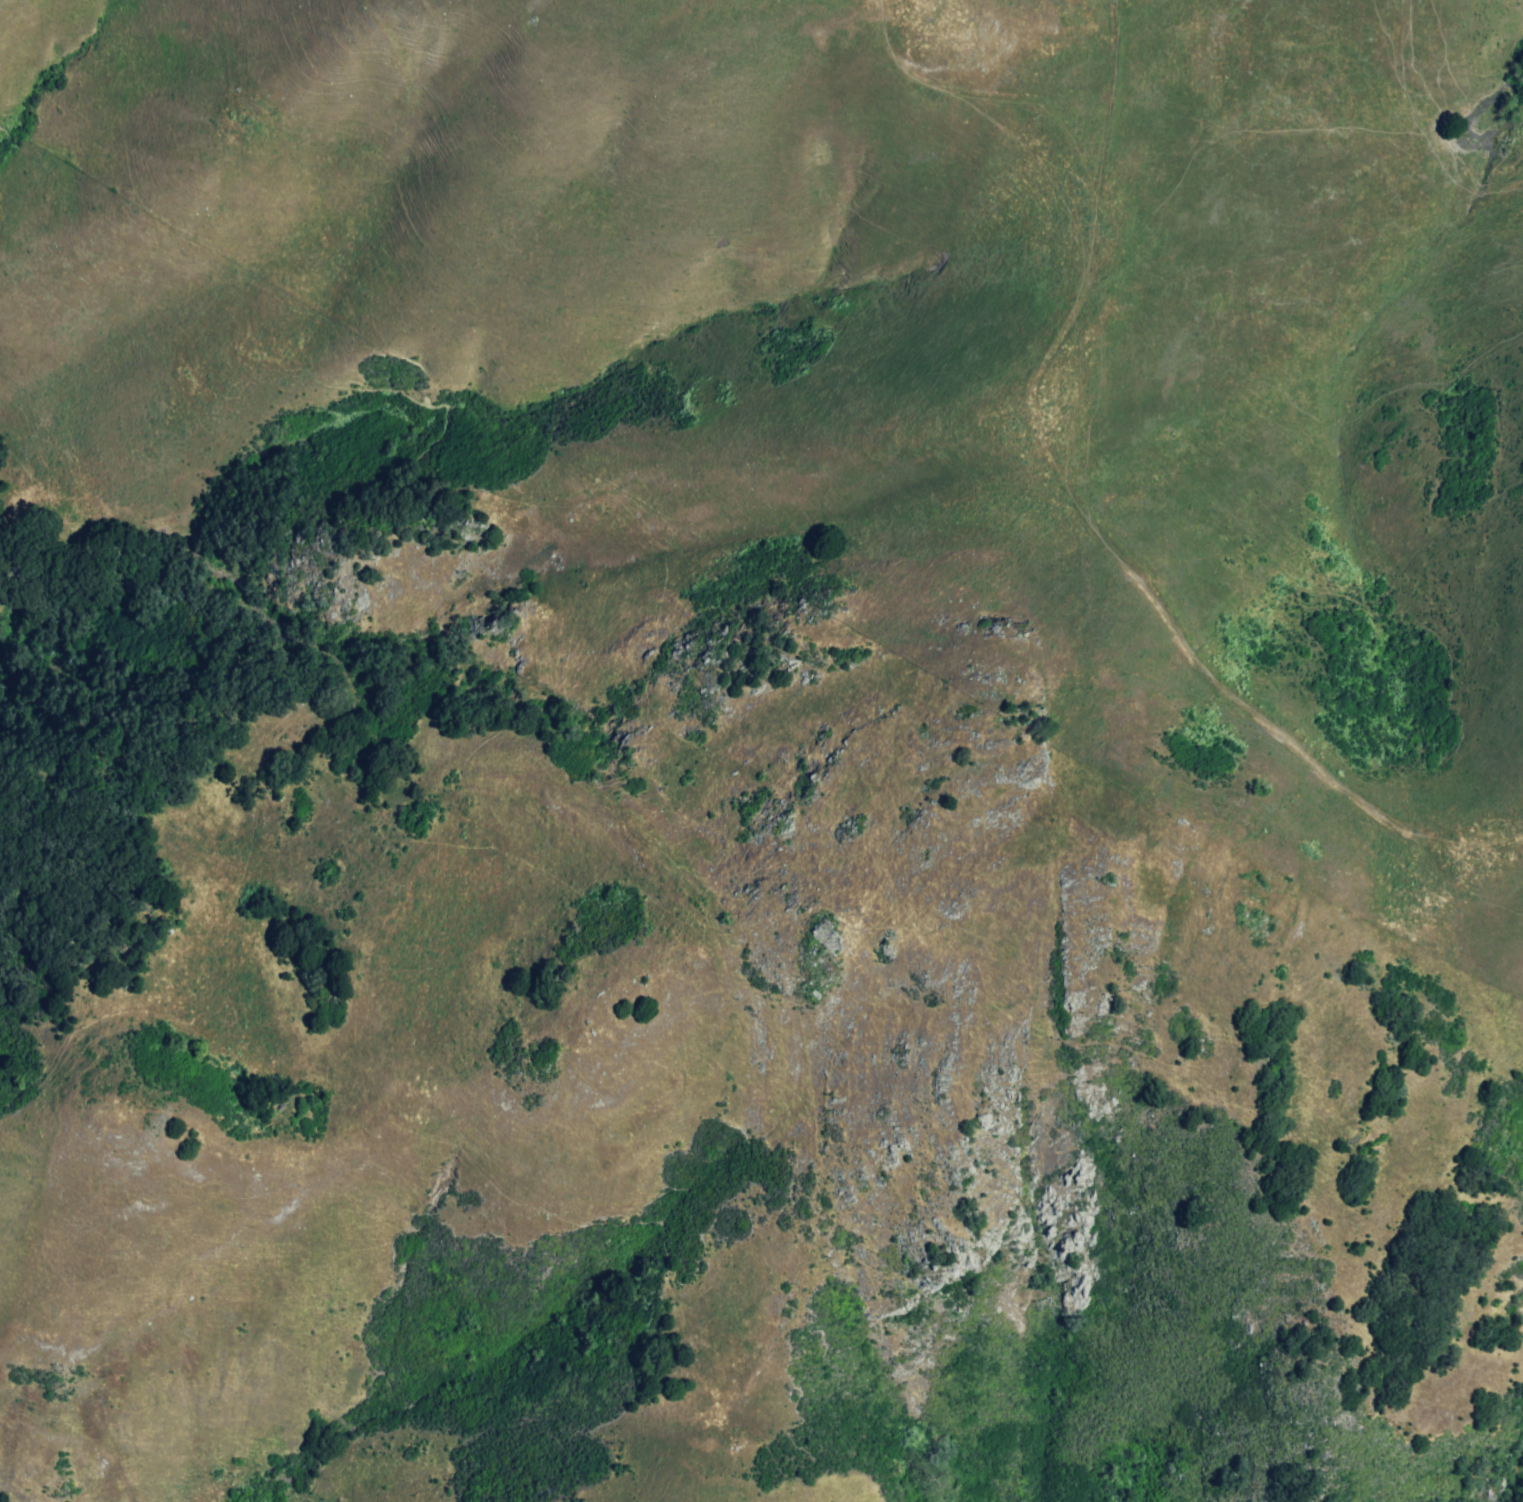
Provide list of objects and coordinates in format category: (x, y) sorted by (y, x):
road: (1064, 475)

